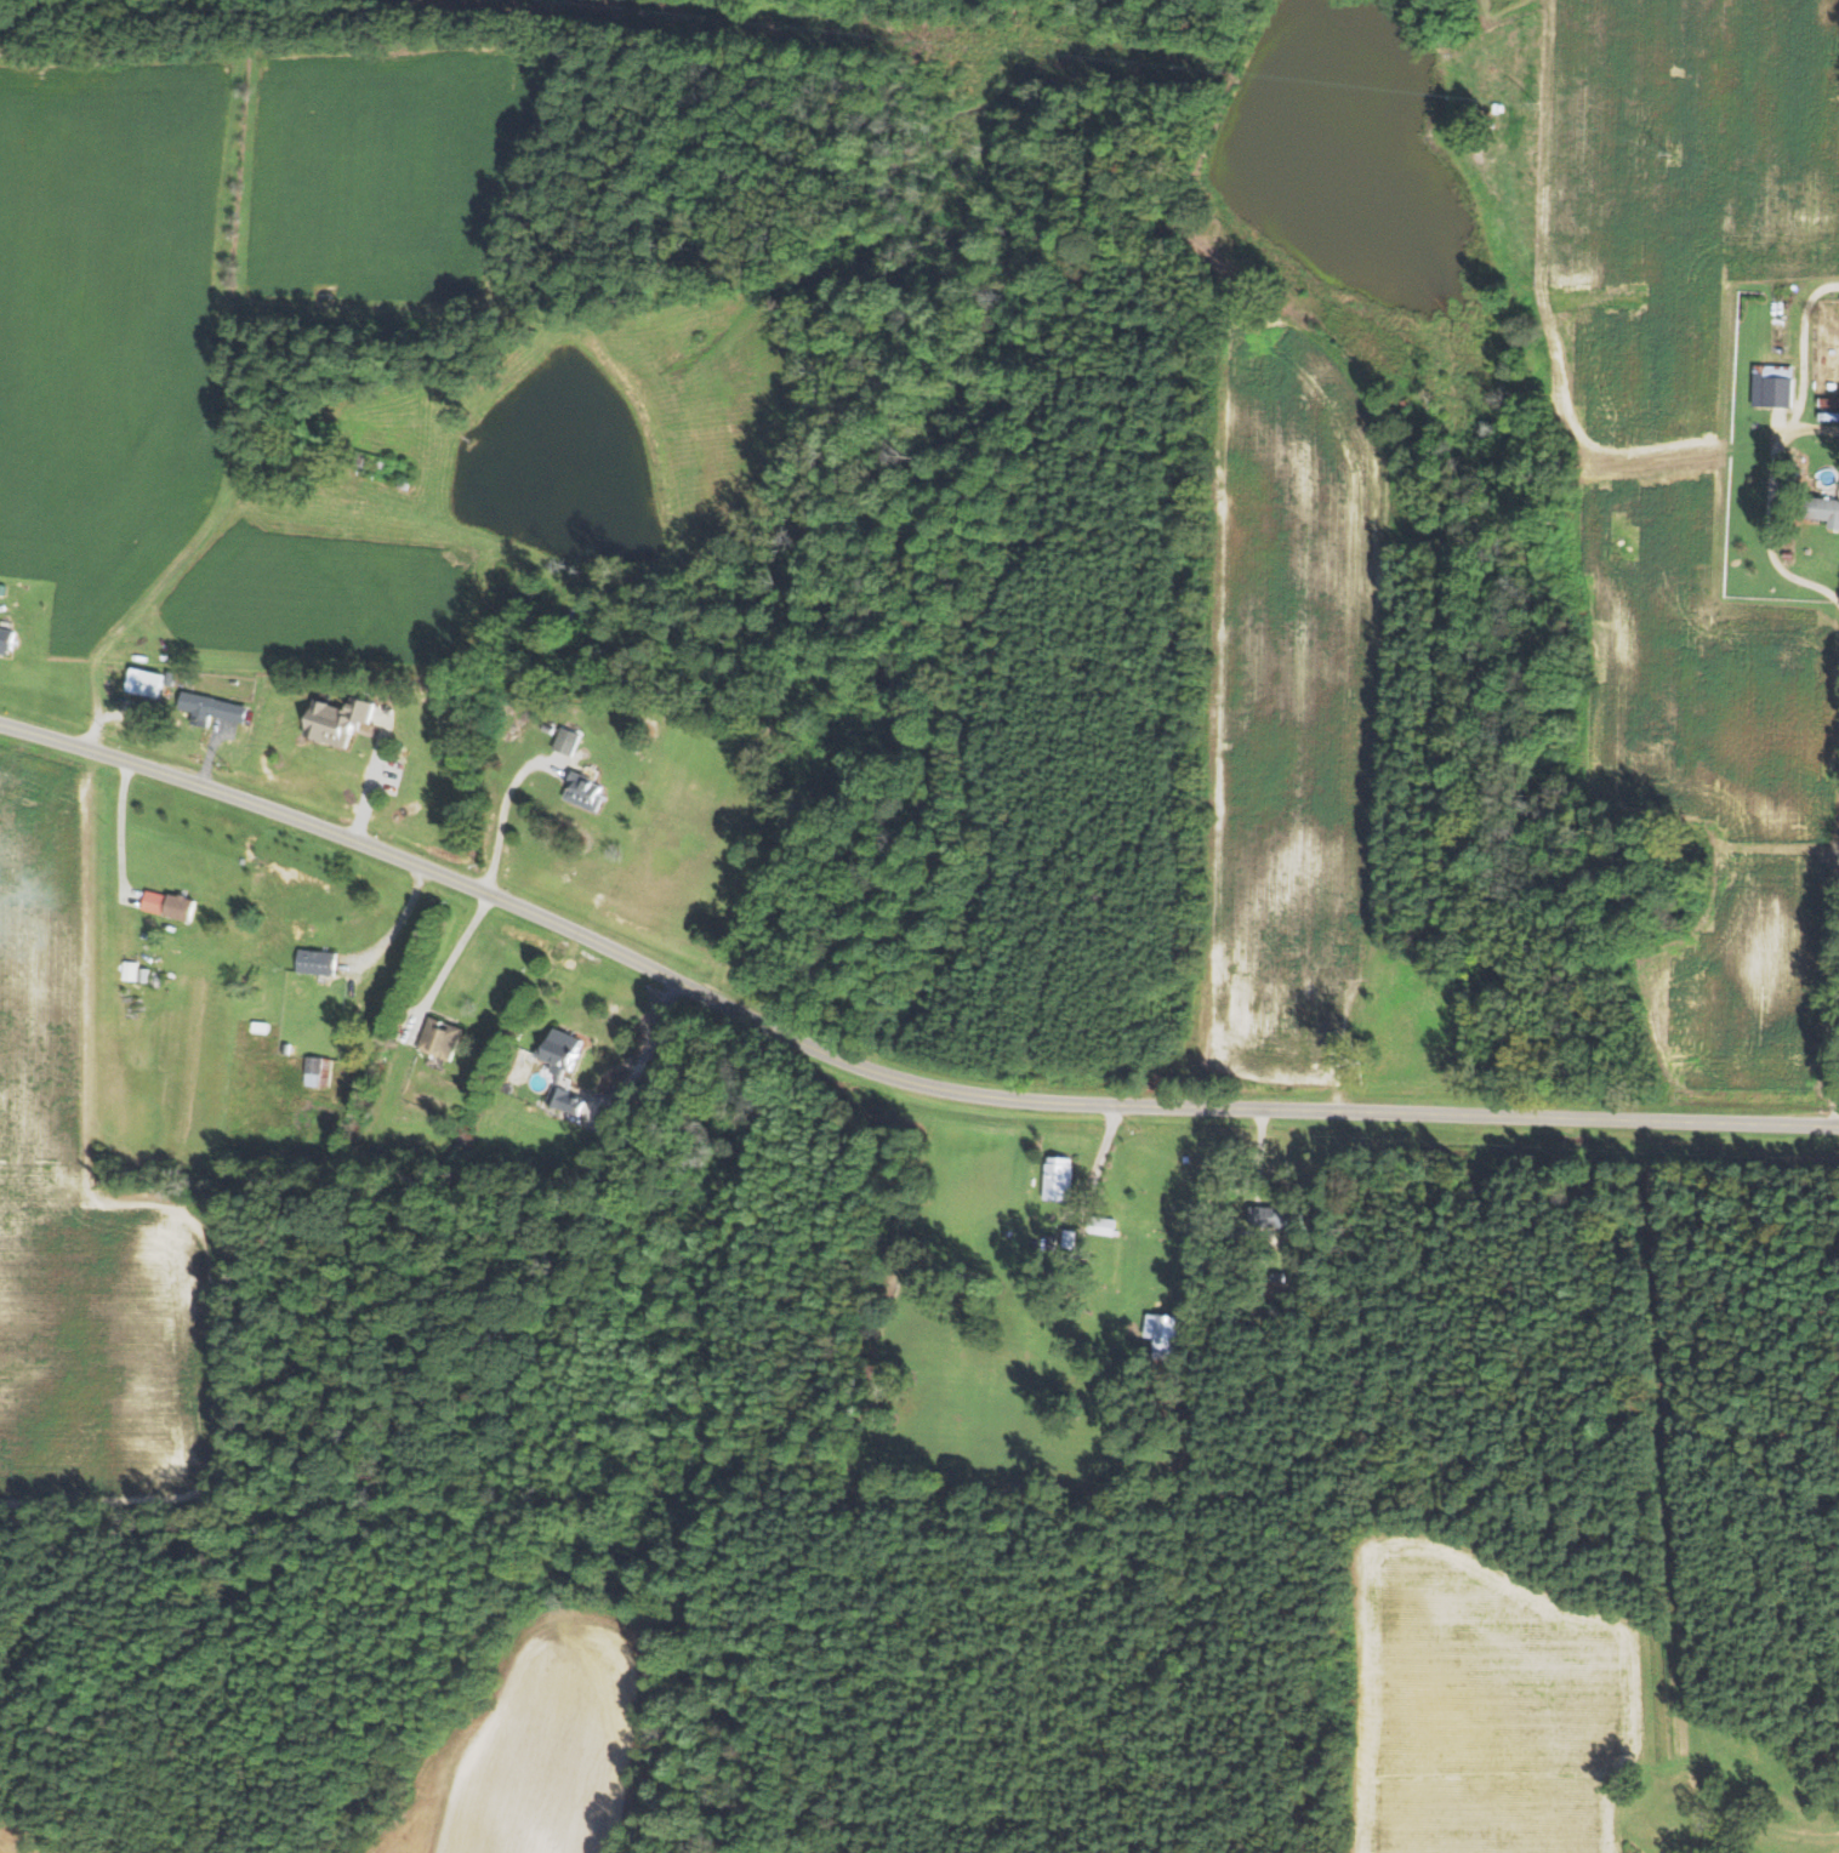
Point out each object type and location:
road: (1806, 349)
building: (1776, 389)
road: (1767, 508)
building: (1832, 511)
building: (7, 640)
building: (147, 682)
building: (212, 708)
building: (342, 719)
building: (569, 740)
building: (587, 792)
road: (505, 810)
building: (156, 901)
building: (183, 907)
road: (452, 957)
building: (320, 962)
building: (443, 1038)
building: (565, 1051)
road: (1838, 1067)
building: (319, 1071)
road: (887, 1074)
building: (570, 1100)
building: (1060, 1179)
building: (1281, 1214)
building: (1106, 1225)
building: (1163, 1333)
building: (1675, 1788)
road: (1777, 1828)

